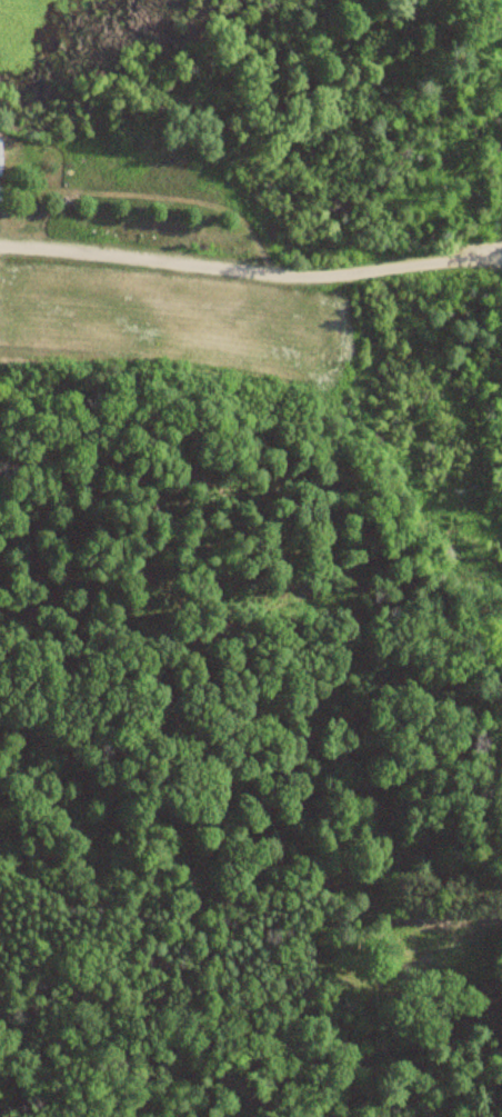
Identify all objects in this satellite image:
road: (164, 258)
road: (415, 262)

